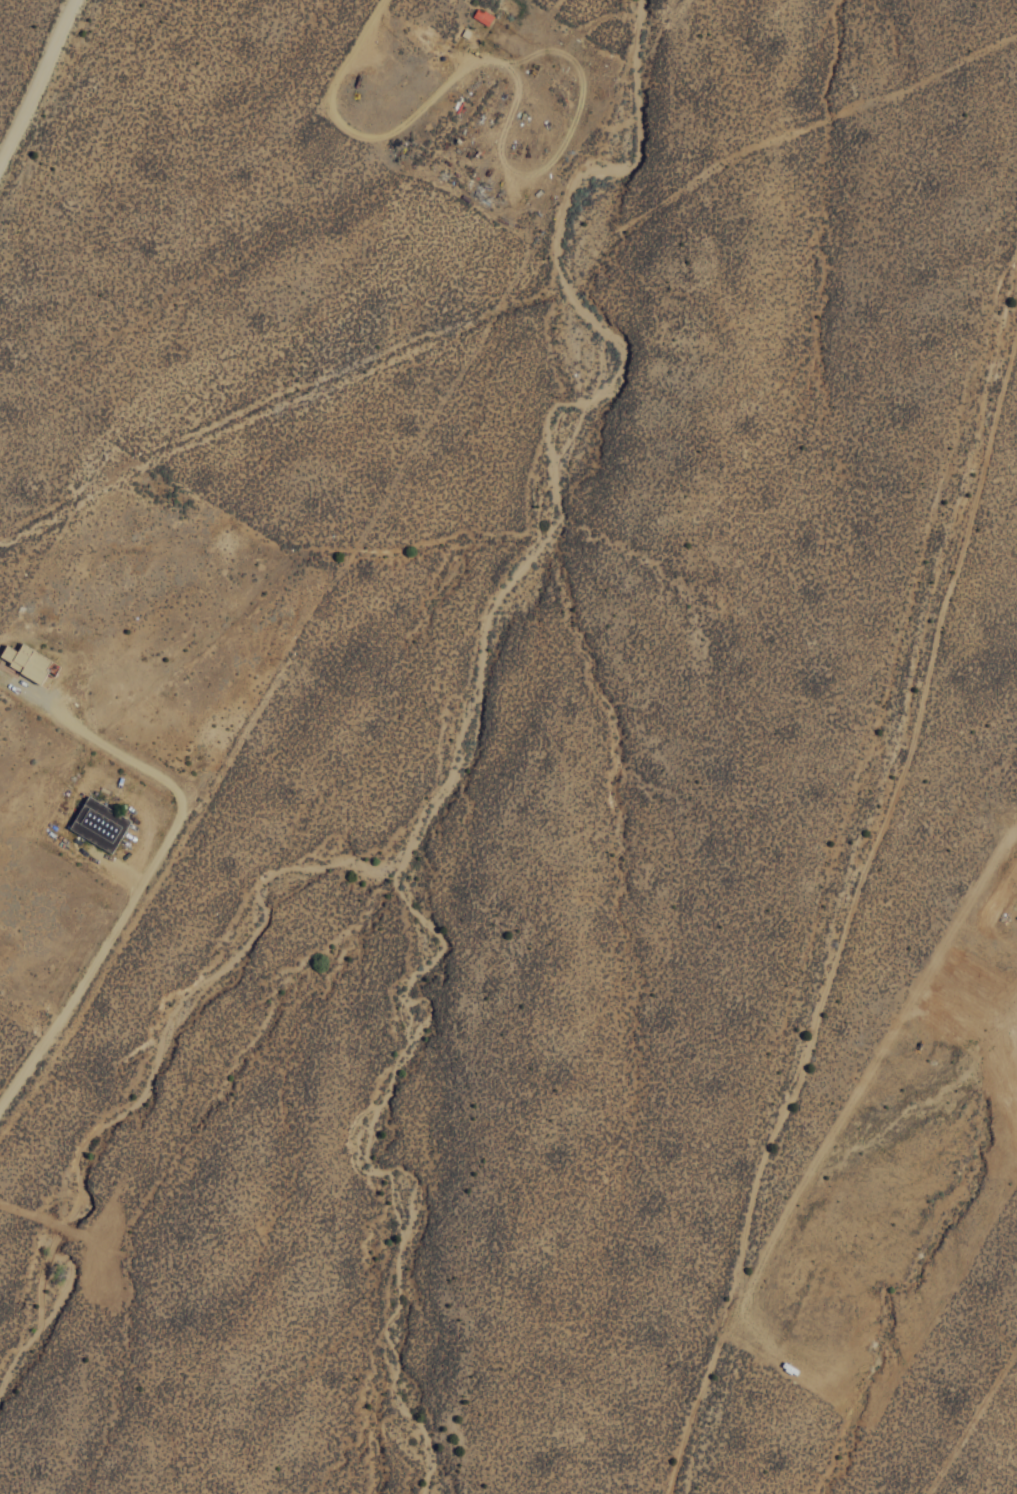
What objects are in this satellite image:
building: (483, 15)
road: (360, 44)
road: (37, 84)
building: (104, 835)
road: (854, 839)
road: (95, 969)

